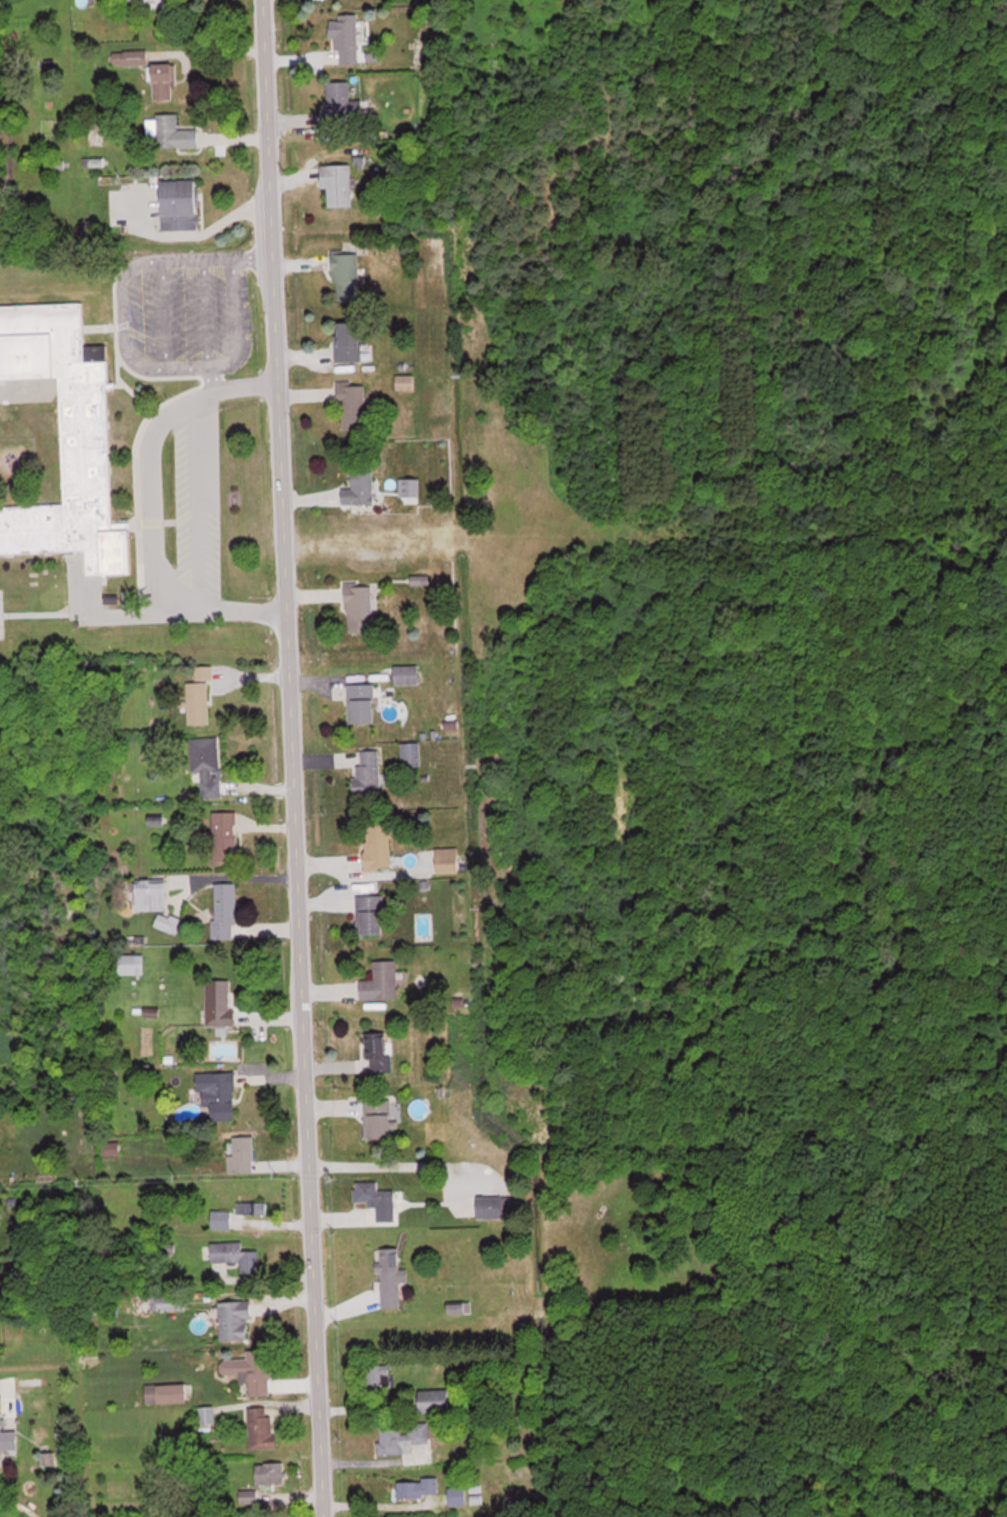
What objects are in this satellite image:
building: (346, 37)
building: (130, 56)
building: (164, 80)
building: (339, 104)
building: (175, 132)
building: (338, 183)
building: (181, 203)
building: (346, 273)
building: (348, 340)
building: (405, 381)
building: (352, 404)
building: (67, 436)
building: (409, 485)
building: (360, 487)
road: (149, 512)
building: (360, 606)
building: (407, 674)
building: (199, 699)
building: (361, 703)
road: (287, 758)
building: (415, 758)
building: (206, 765)
building: (368, 774)
building: (224, 836)
building: (378, 847)
building: (152, 895)
building: (224, 910)
building: (370, 914)
building: (168, 922)
building: (131, 963)
building: (381, 981)
building: (219, 1003)
building: (379, 1053)
building: (219, 1093)
building: (378, 1119)
building: (242, 1155)
building: (374, 1194)
building: (493, 1206)
building: (221, 1219)
building: (391, 1277)
building: (169, 1302)
building: (457, 1308)
building: (235, 1320)
building: (252, 1370)
building: (377, 1379)
building: (167, 1392)
building: (435, 1400)
building: (207, 1413)
building: (261, 1428)
building: (6, 1436)
building: (401, 1436)
building: (270, 1473)
building: (417, 1488)
building: (457, 1495)

